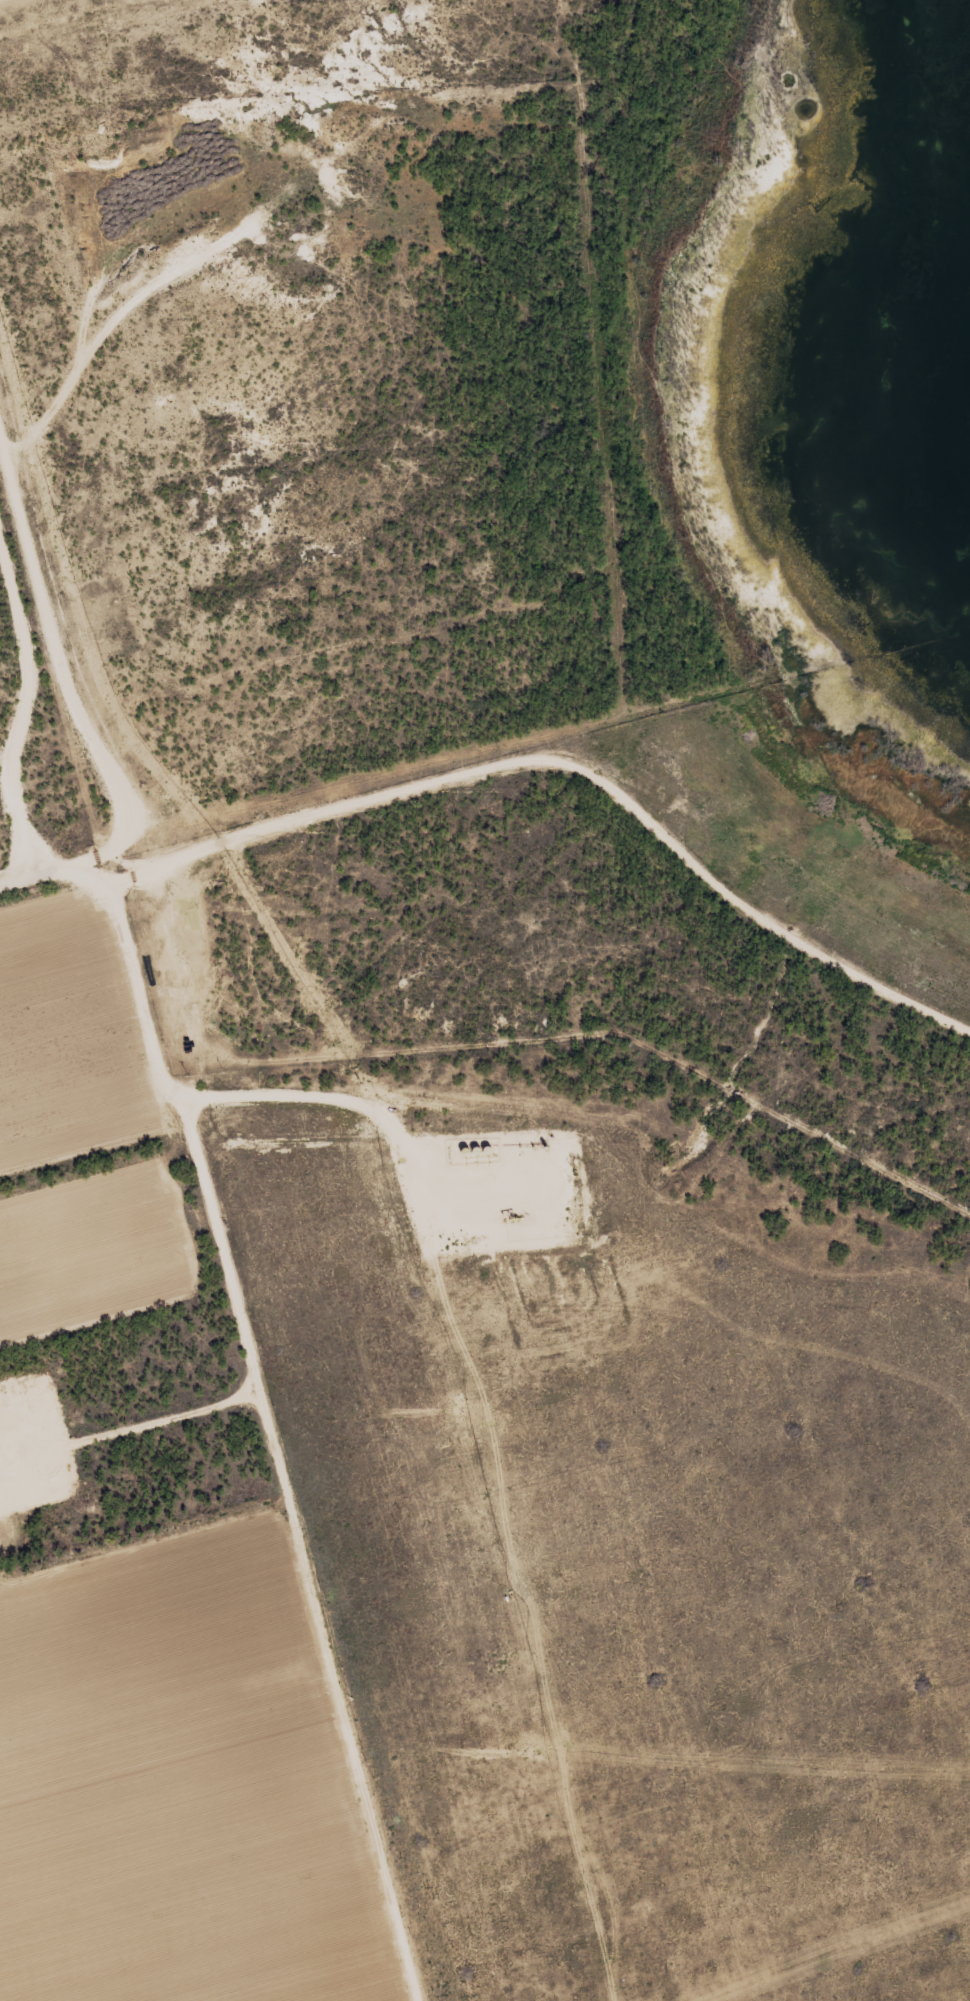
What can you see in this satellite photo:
road: (59, 877)

